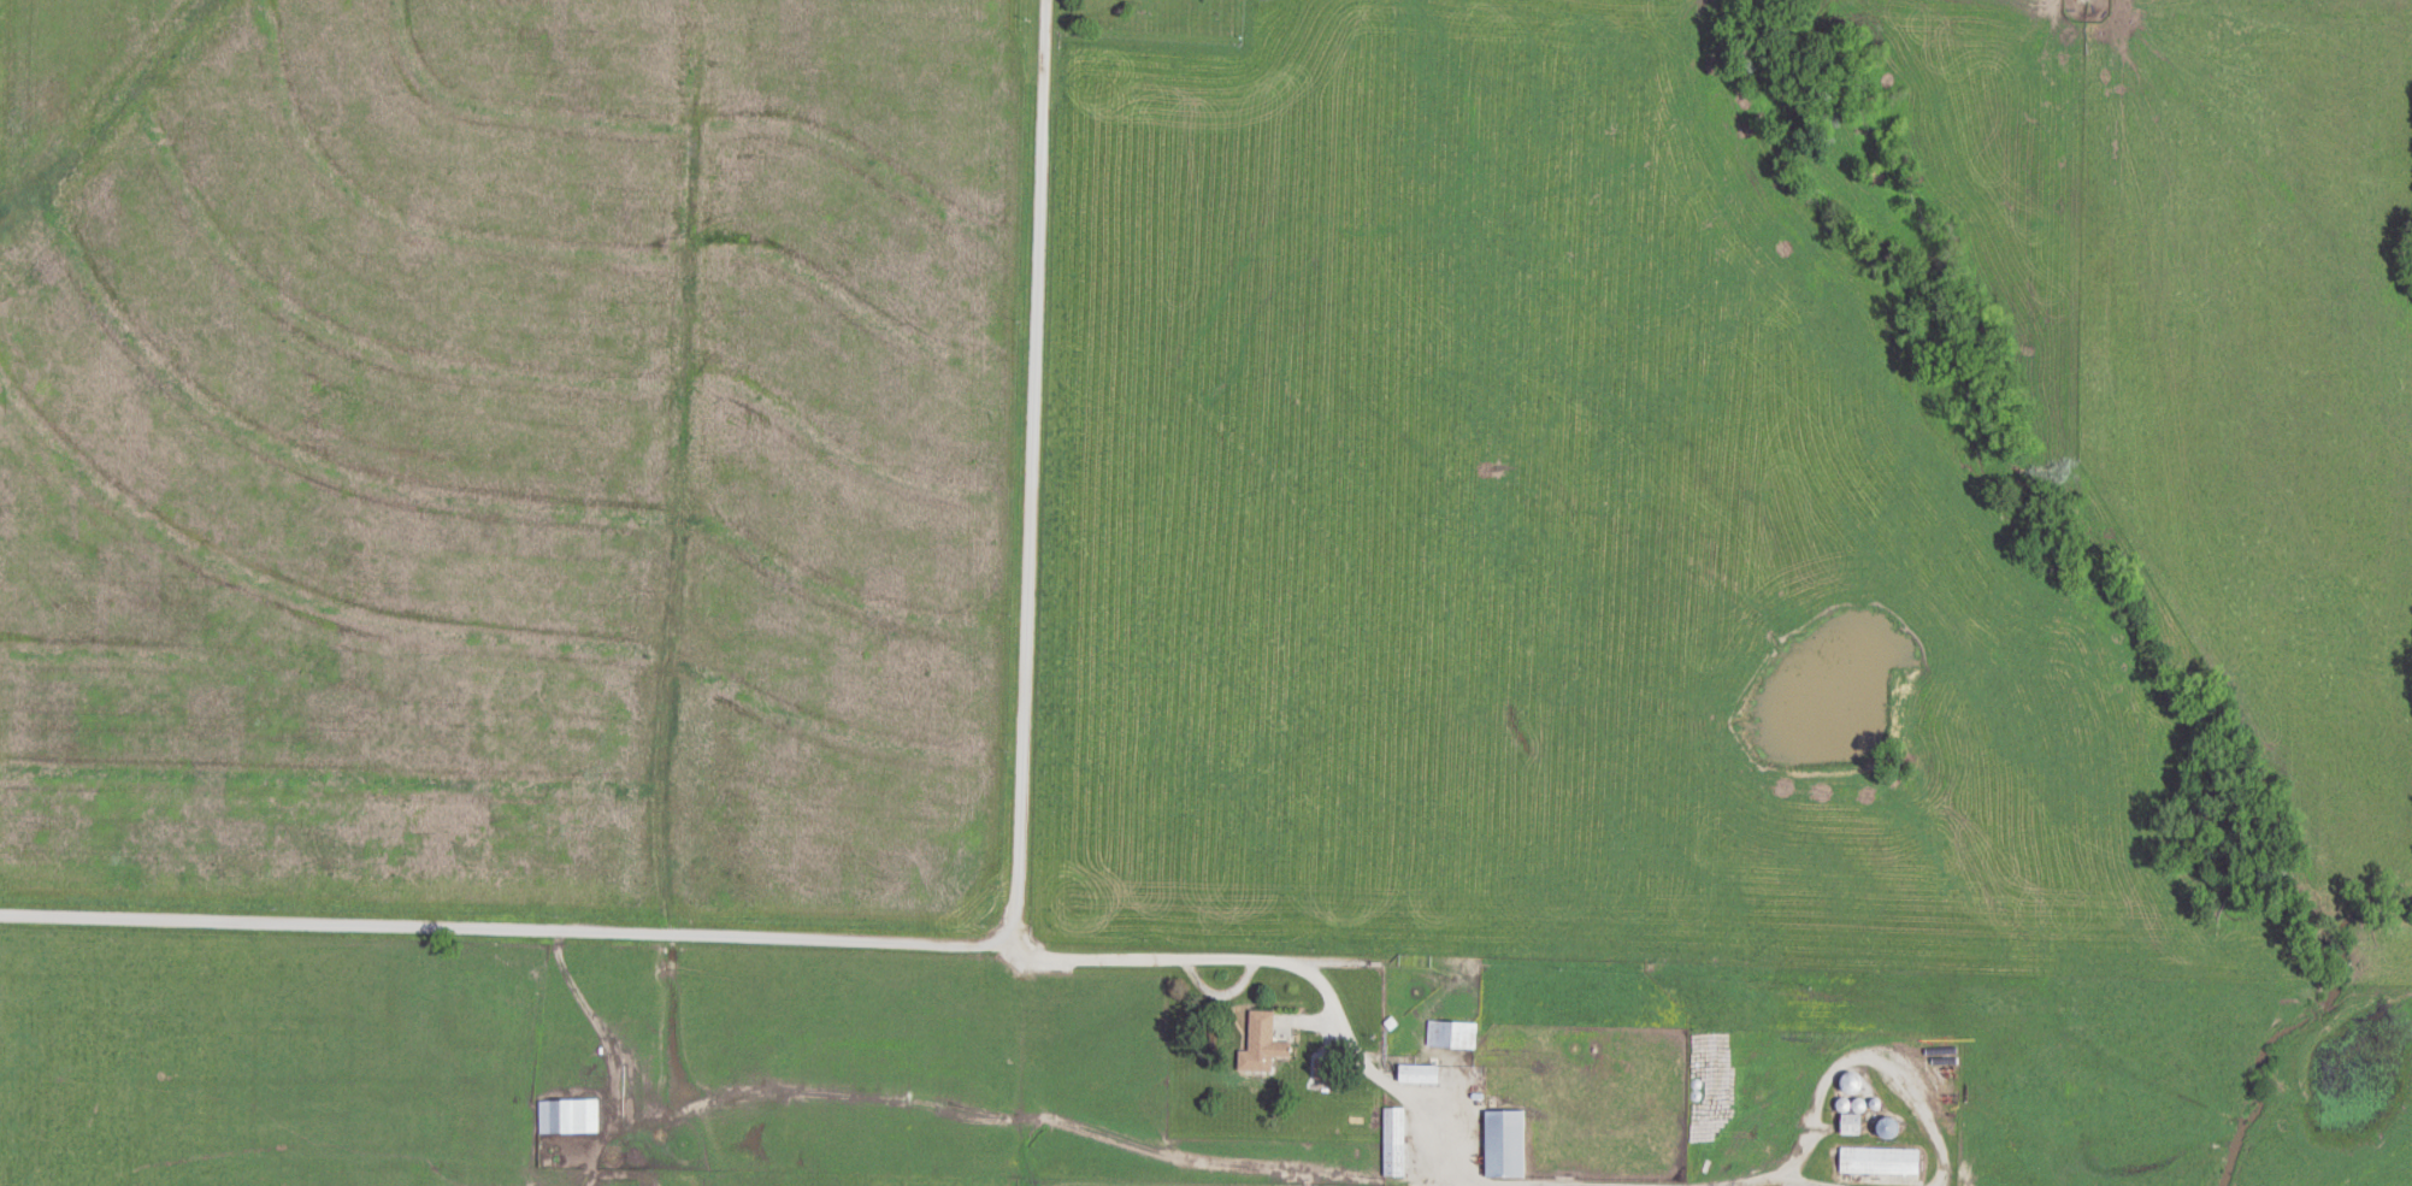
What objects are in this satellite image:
crop: (1, 54)
crop: (518, 455)
road: (1021, 465)
road: (748, 933)
building: (1452, 1034)
building: (1260, 1044)
building: (1419, 1074)
building: (570, 1115)
building: (1394, 1141)
building: (1505, 1144)
building: (1880, 1161)

